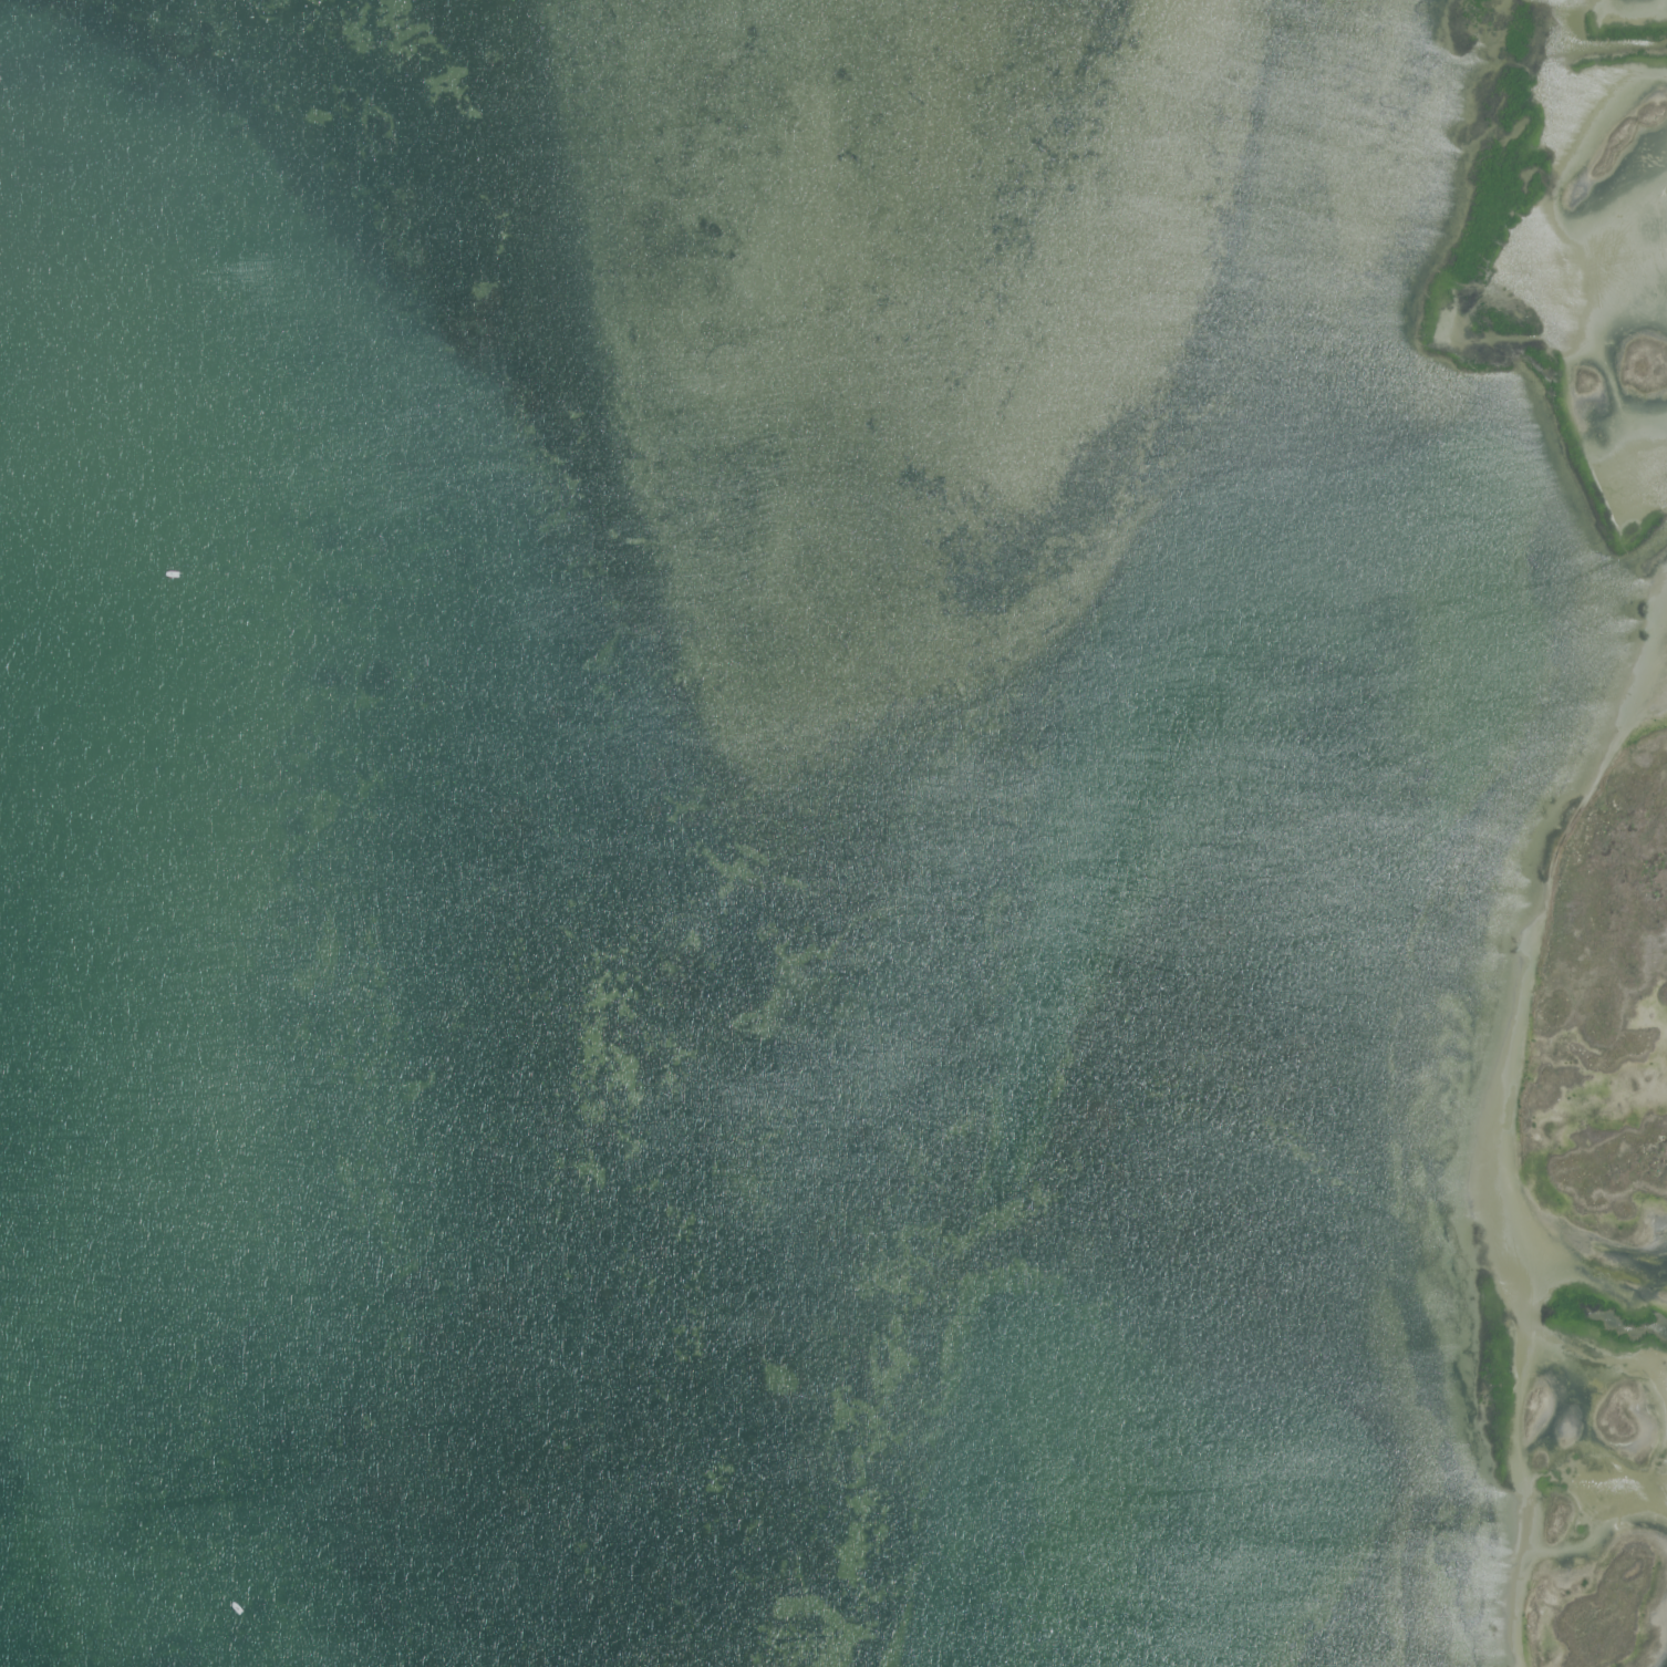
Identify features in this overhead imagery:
park: (1563, 794)

